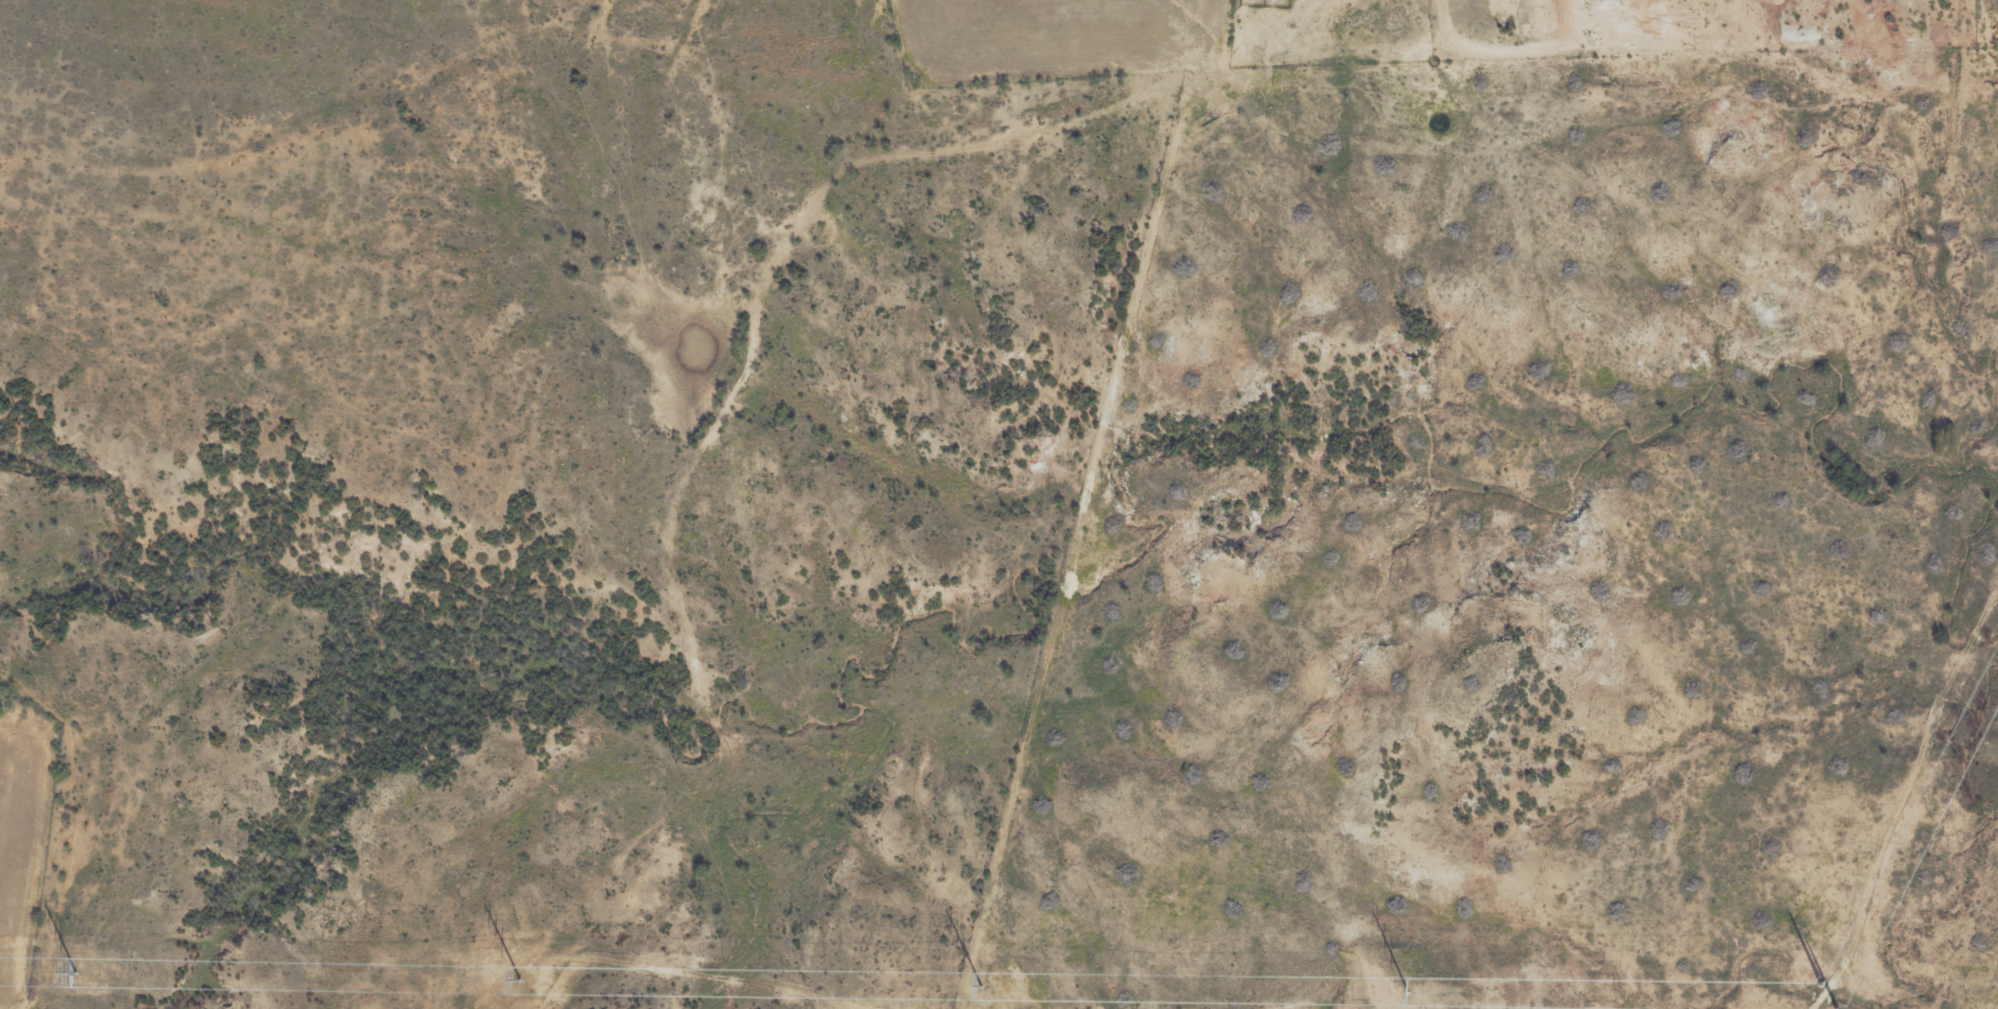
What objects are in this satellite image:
power tower: (75, 971)
power tower: (518, 978)
power tower: (981, 985)
power tower: (1406, 991)
power tower: (1830, 997)

